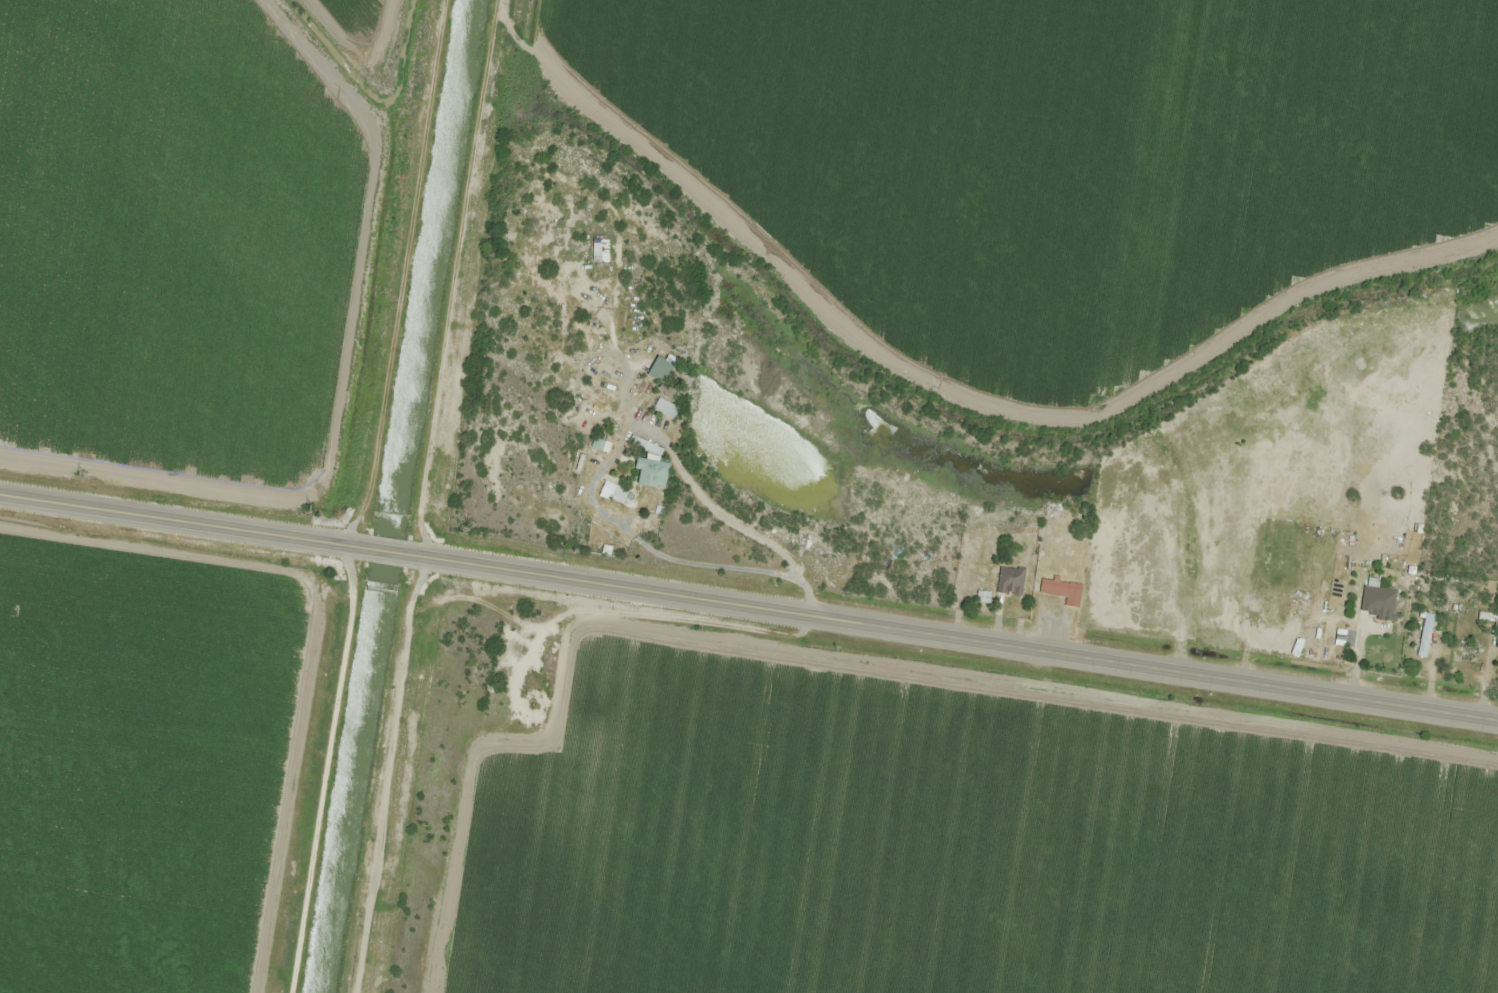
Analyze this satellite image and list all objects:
river: (335, 52)
power tower: (80, 474)
road: (363, 495)
river: (396, 496)
power tower: (310, 507)
road: (179, 520)
power tower: (468, 528)
road: (387, 550)
building: (1382, 596)
road: (957, 636)
power tower: (424, 827)

